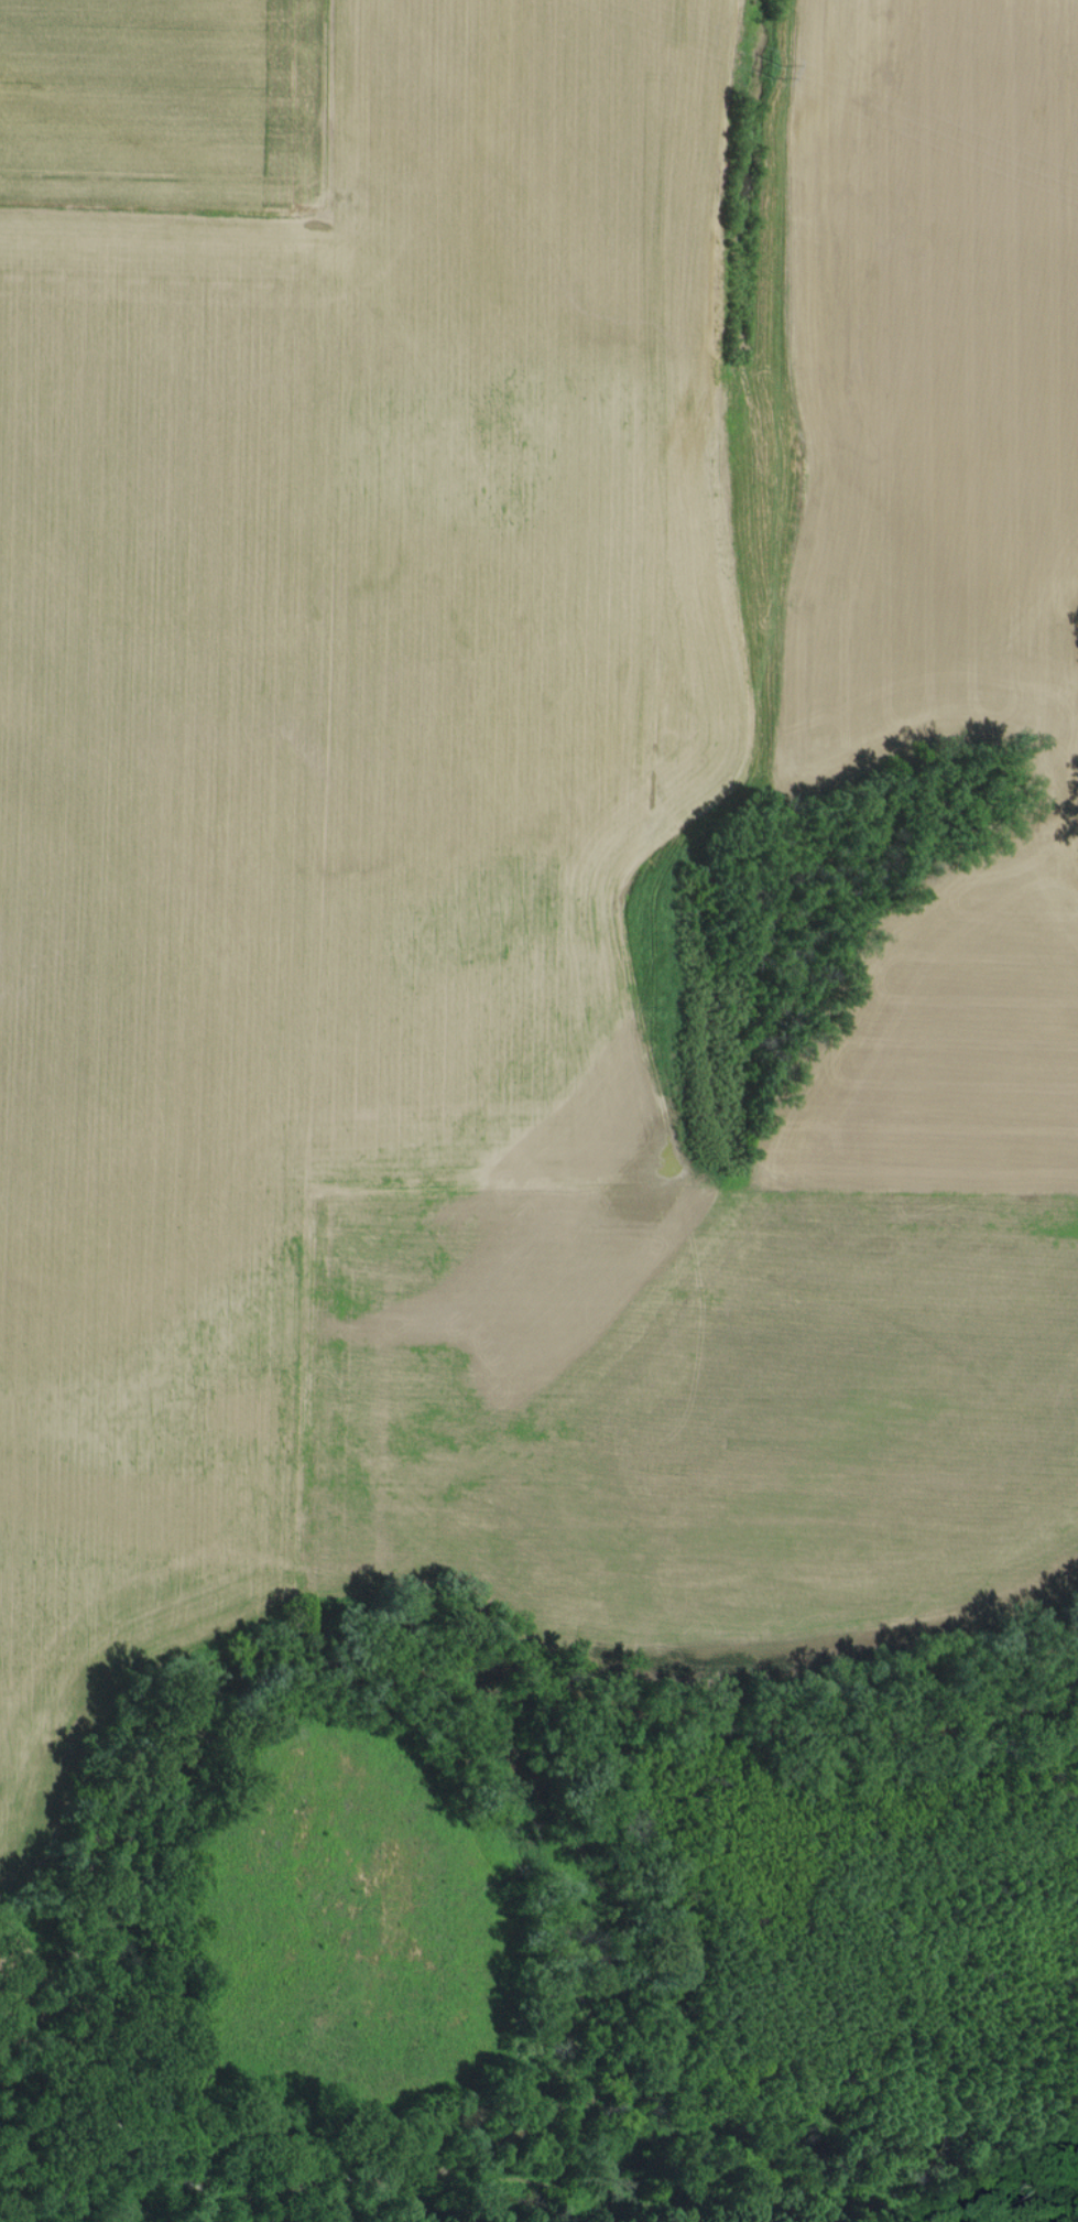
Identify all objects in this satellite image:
power tower: (776, 71)

